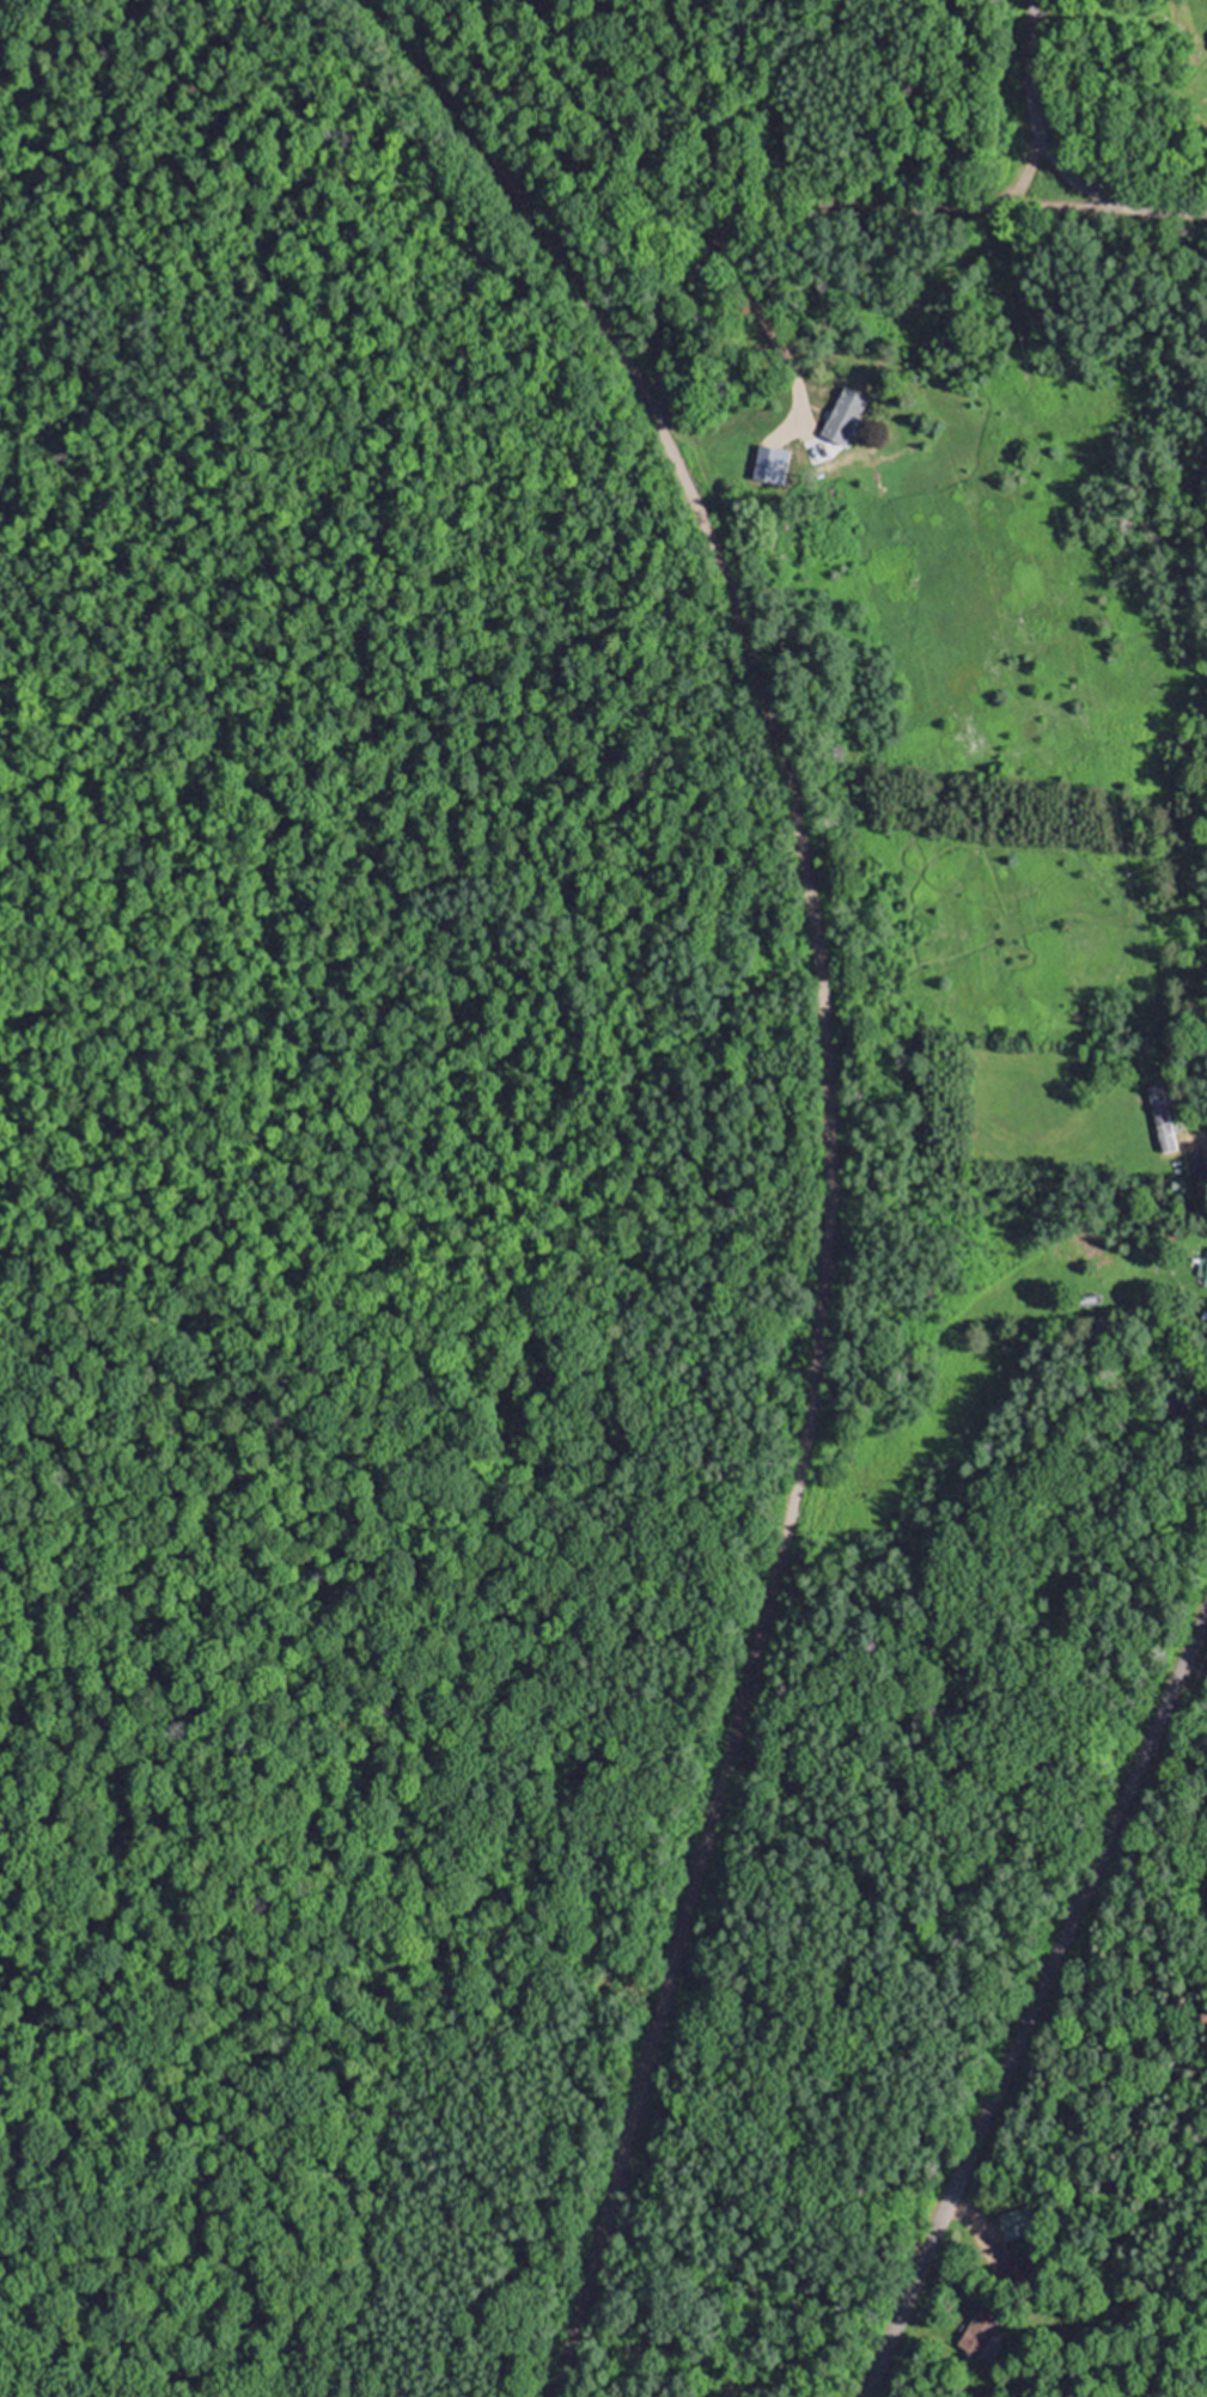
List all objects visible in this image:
road: (395, 22)
road: (1057, 155)
road: (1017, 172)
road: (935, 201)
road: (663, 391)
building: (1159, 1116)
building: (1200, 1164)
road: (821, 1187)
building: (1205, 1271)
building: (1175, 1403)
road: (1034, 1997)
road: (964, 2216)
building: (1017, 2222)
building: (981, 2331)

